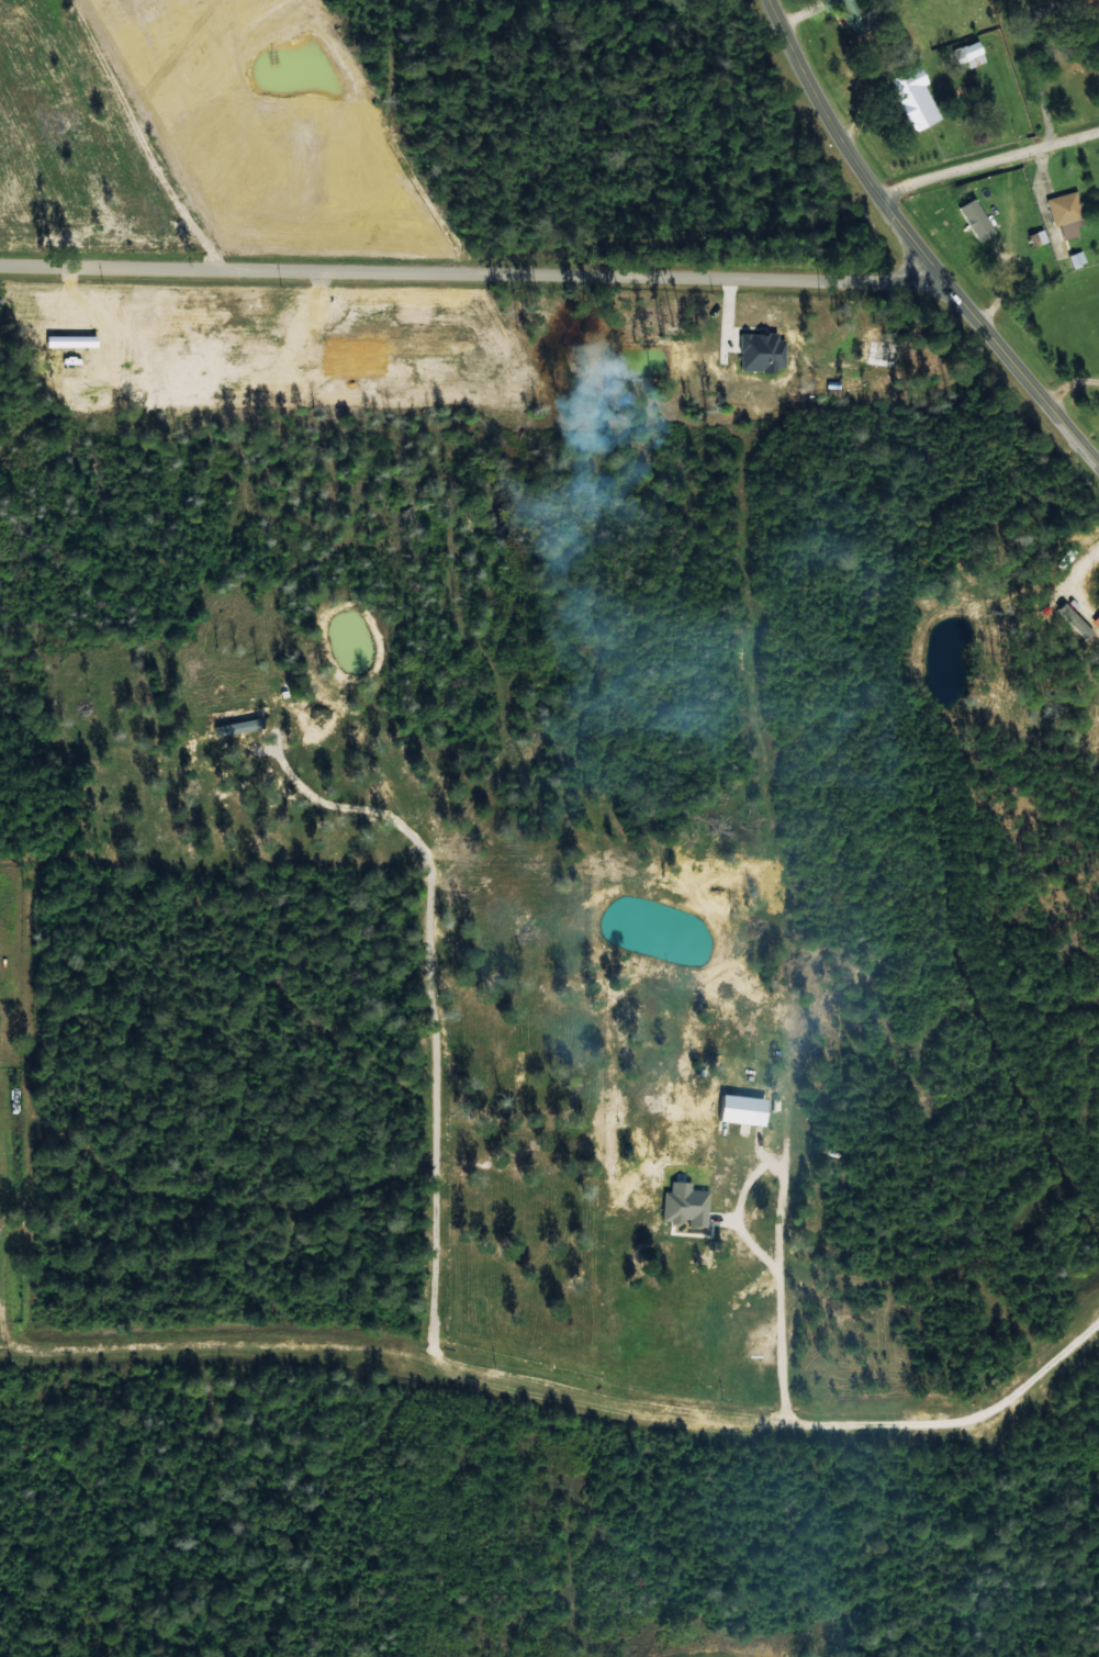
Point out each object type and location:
building: (853, 12)
building: (969, 54)
building: (916, 98)
road: (985, 157)
building: (1065, 212)
building: (976, 219)
road: (915, 246)
building: (1076, 258)
road: (473, 278)
building: (762, 350)
building: (1075, 620)
building: (239, 726)
building: (743, 1109)

